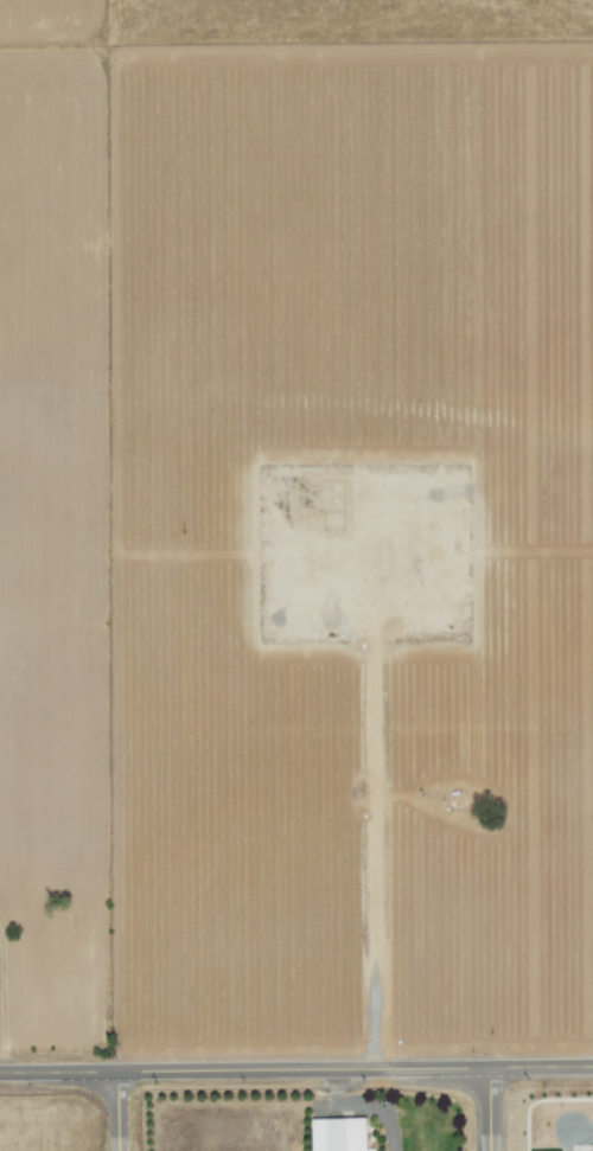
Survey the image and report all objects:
road: (1, 1010)
road: (295, 1069)
road: (486, 1110)
road: (115, 1111)
crop: (541, 1114)
building: (338, 1134)

